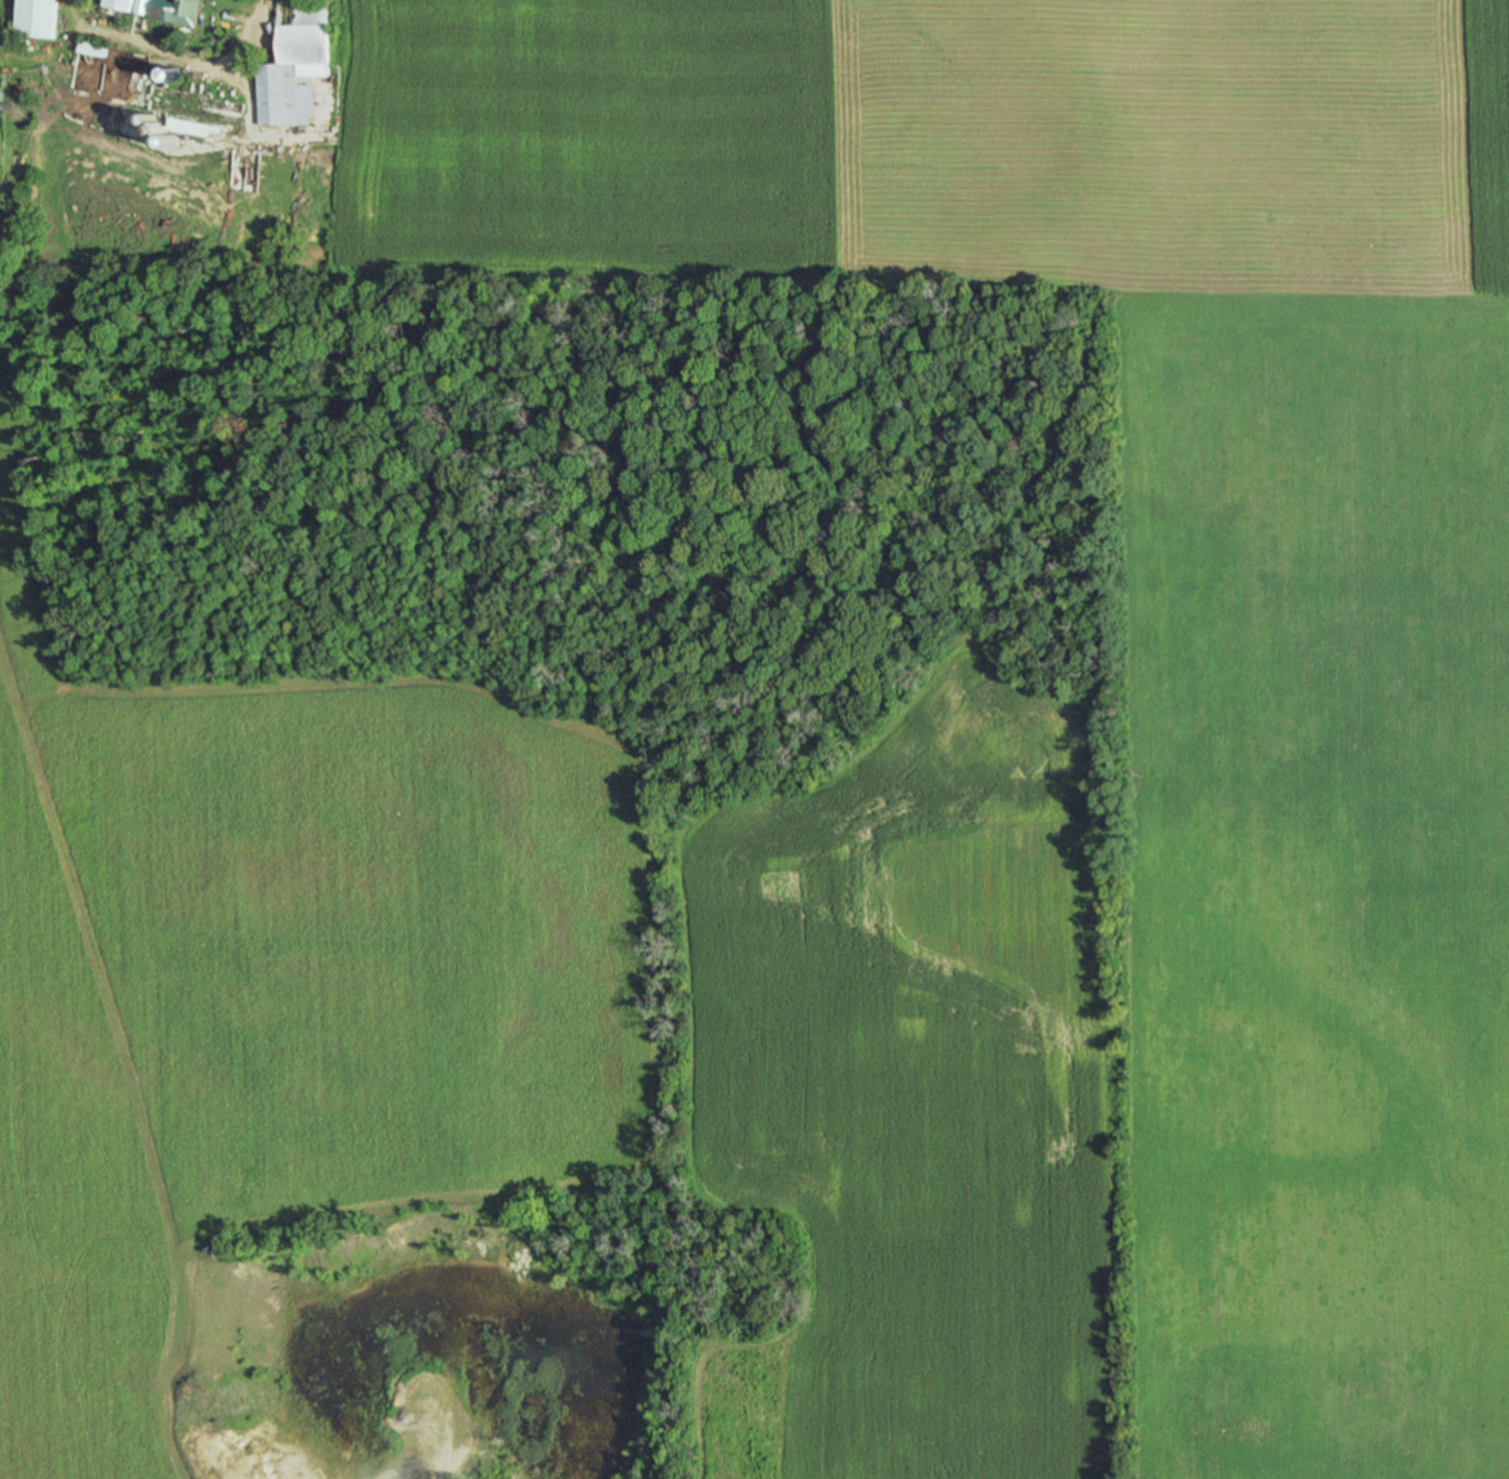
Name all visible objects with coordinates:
building: (114, 4)
building: (170, 11)
building: (30, 18)
building: (289, 64)
building: (187, 110)
road: (501, 1187)
quarry: (427, 1356)
road: (436, 1466)

